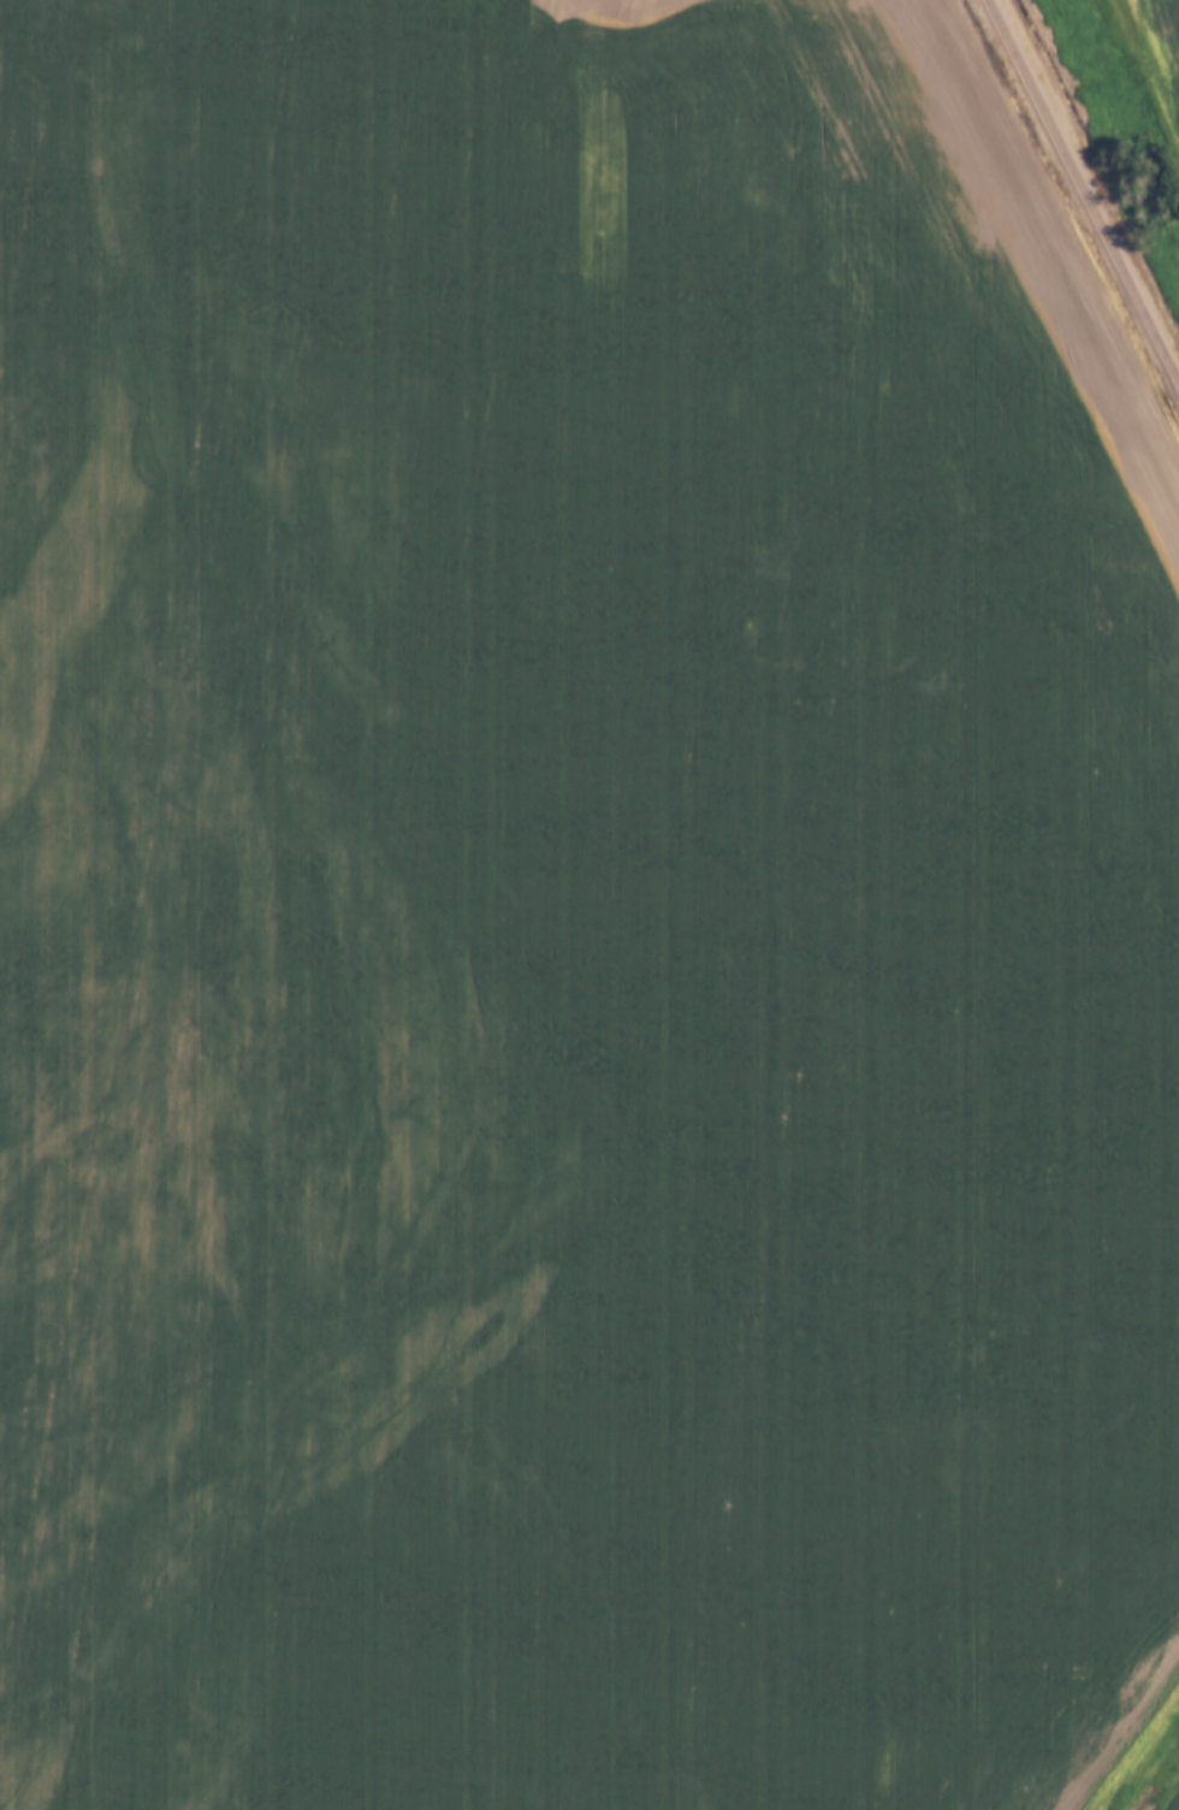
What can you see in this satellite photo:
railway: (1080, 196)

